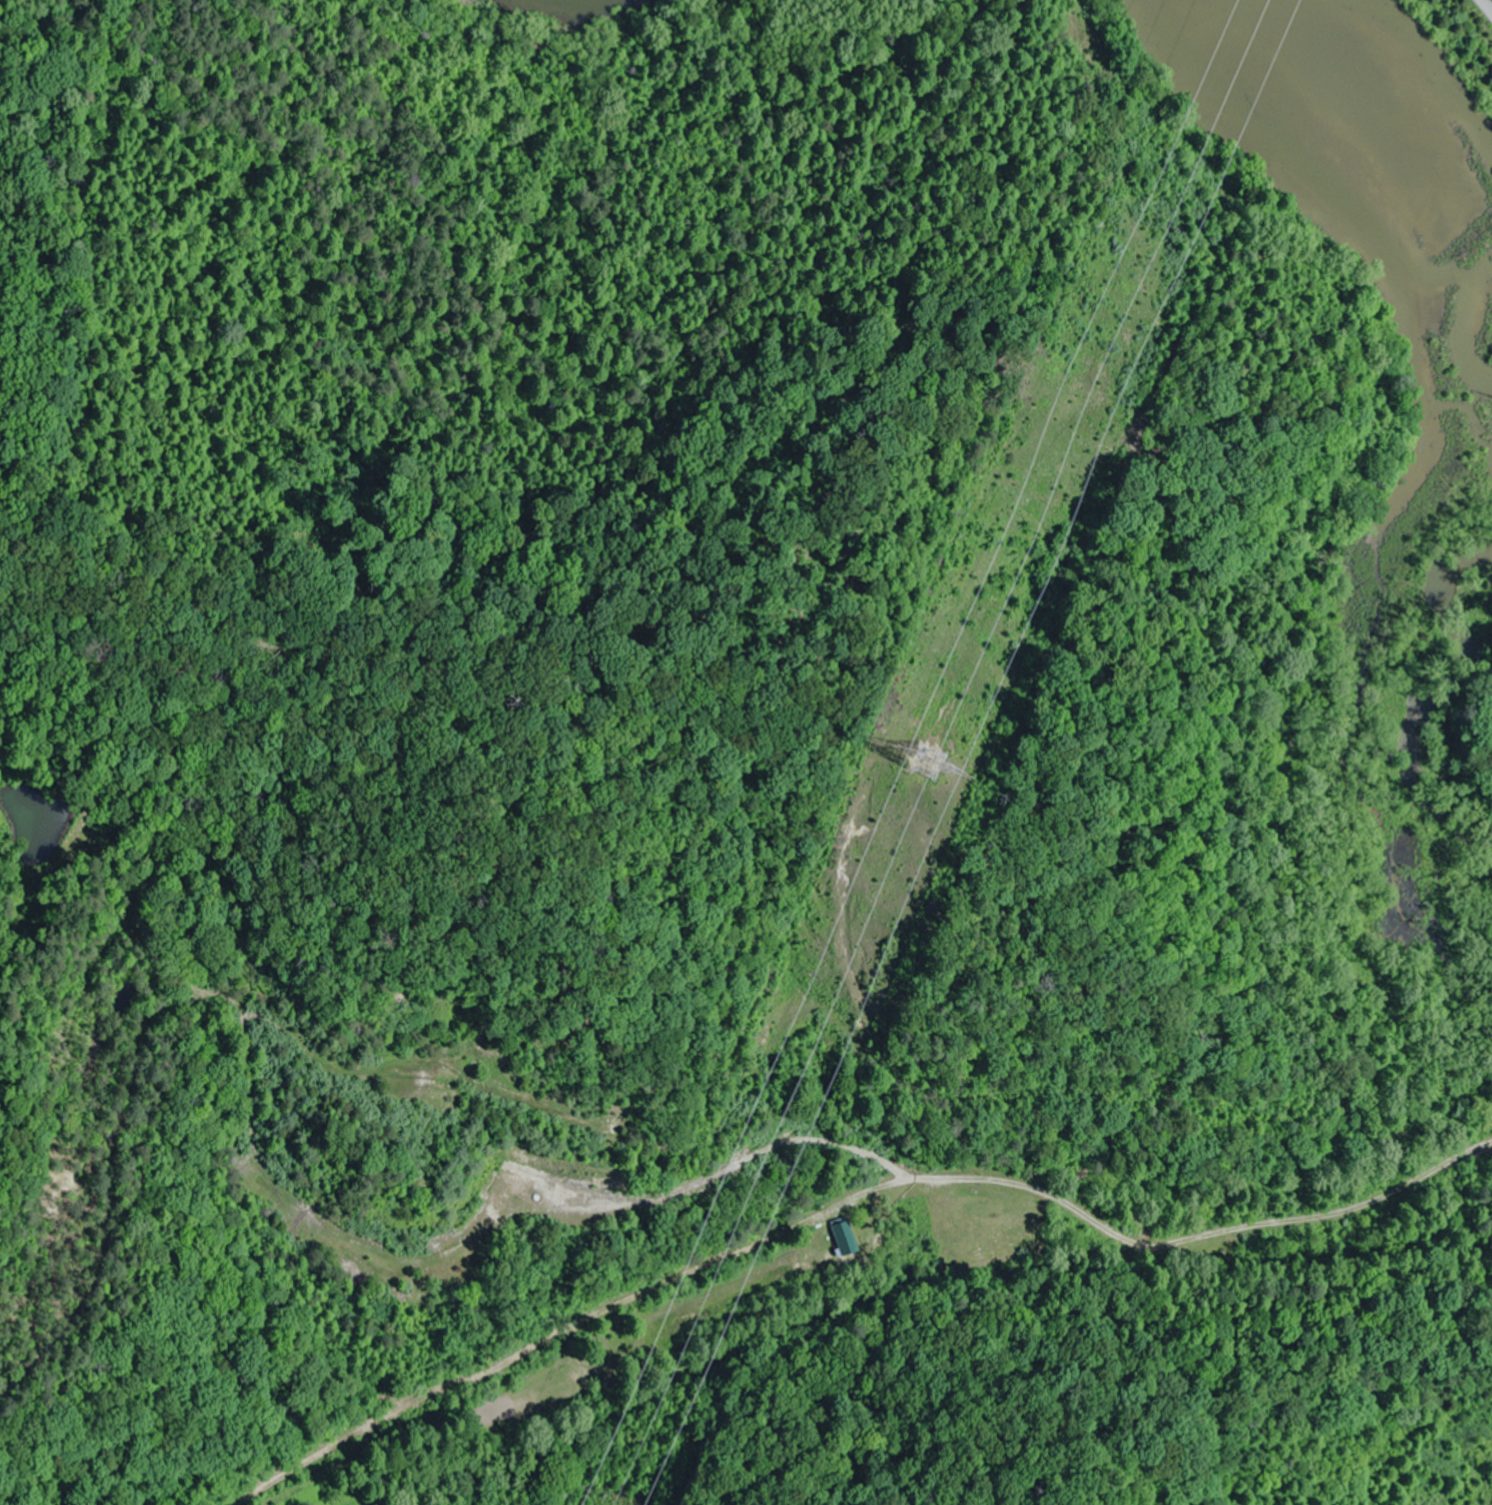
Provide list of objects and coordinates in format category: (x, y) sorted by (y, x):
road: (1484, 9)
building: (841, 1237)

